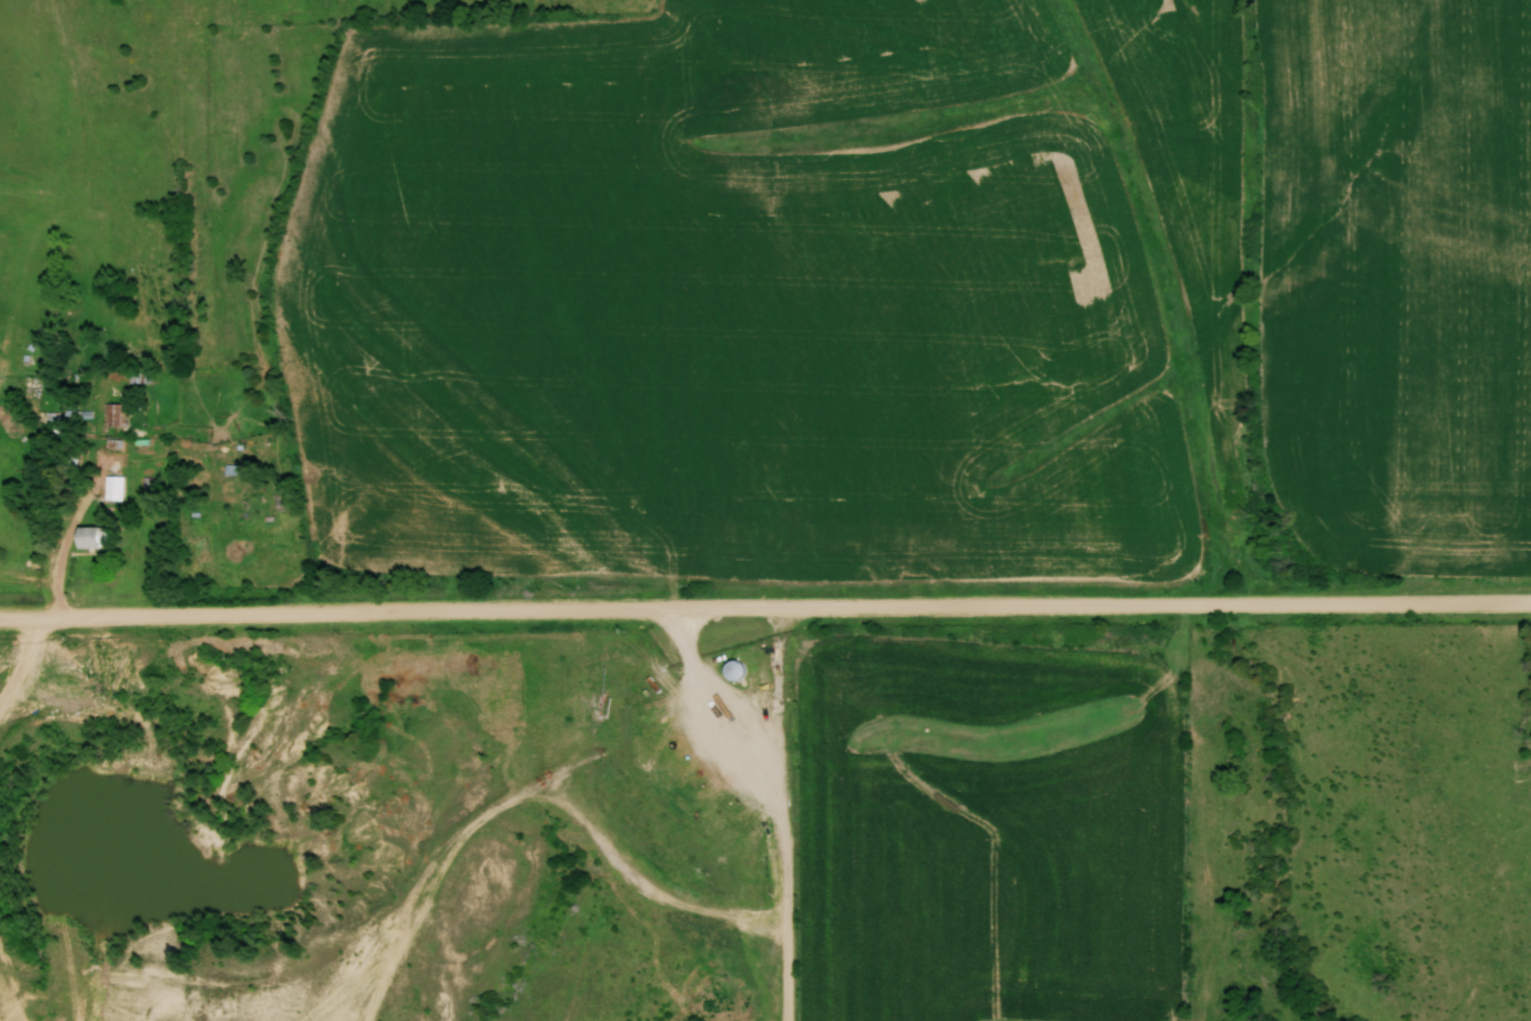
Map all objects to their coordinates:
building: (138, 376)
building: (32, 382)
building: (114, 415)
building: (51, 416)
building: (113, 487)
road: (76, 513)
building: (90, 538)
road: (765, 604)
building: (733, 671)
building: (601, 681)
crop: (987, 832)

